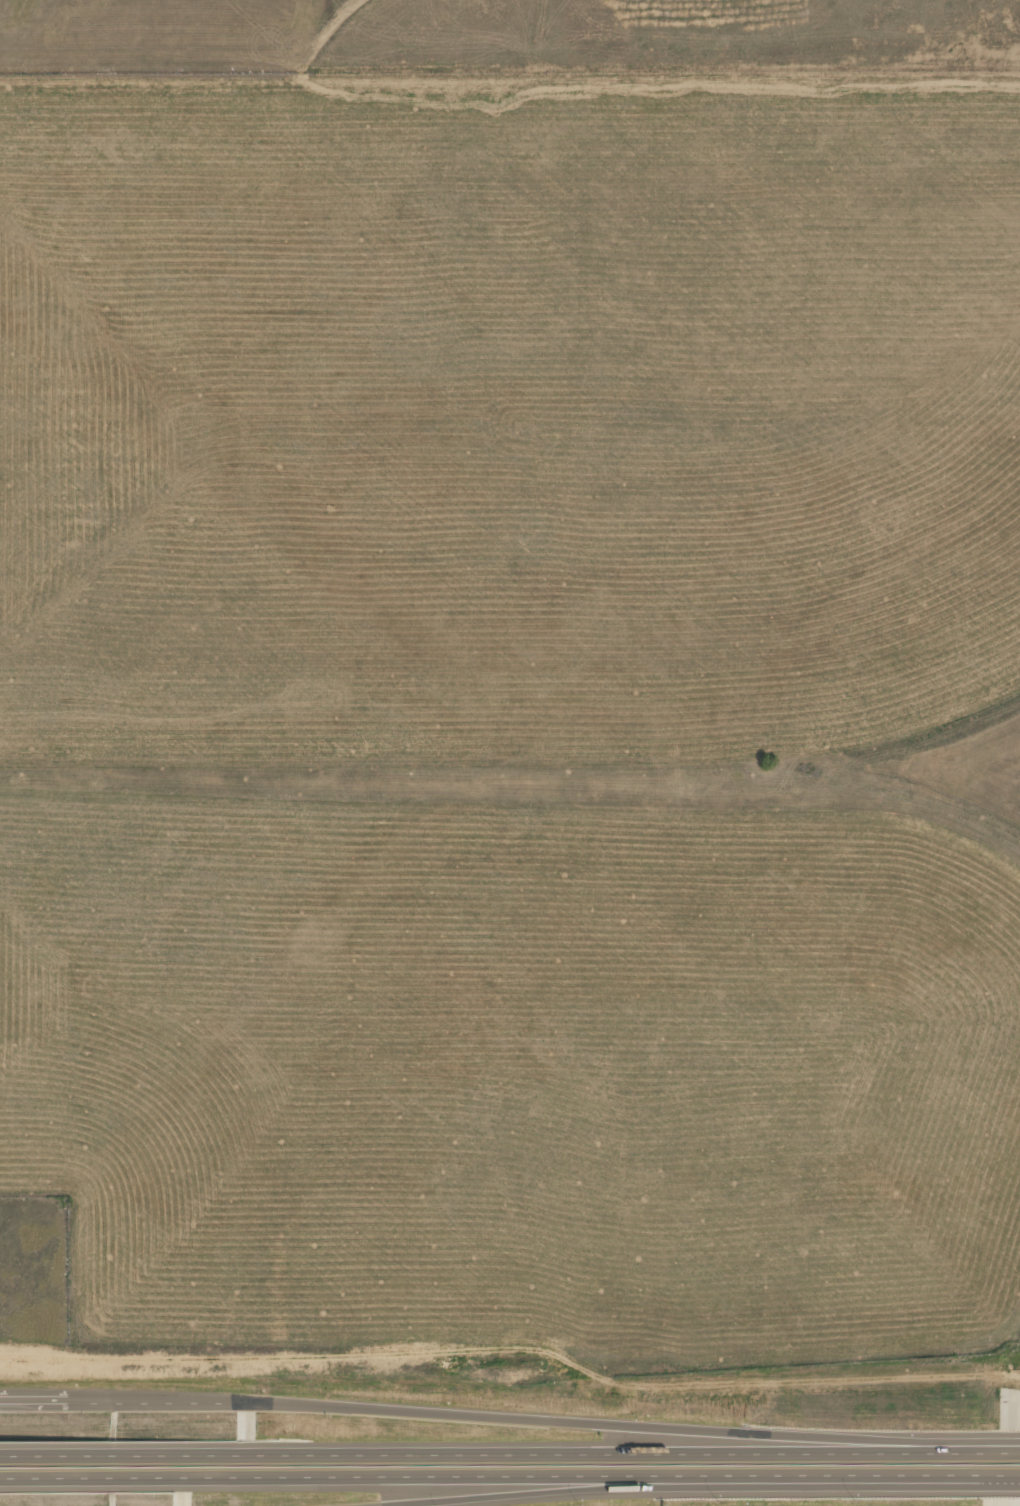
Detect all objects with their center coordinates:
road: (509, 1385)
road: (511, 1421)
road: (634, 1446)
road: (124, 1450)
road: (510, 1485)
road: (471, 1495)

